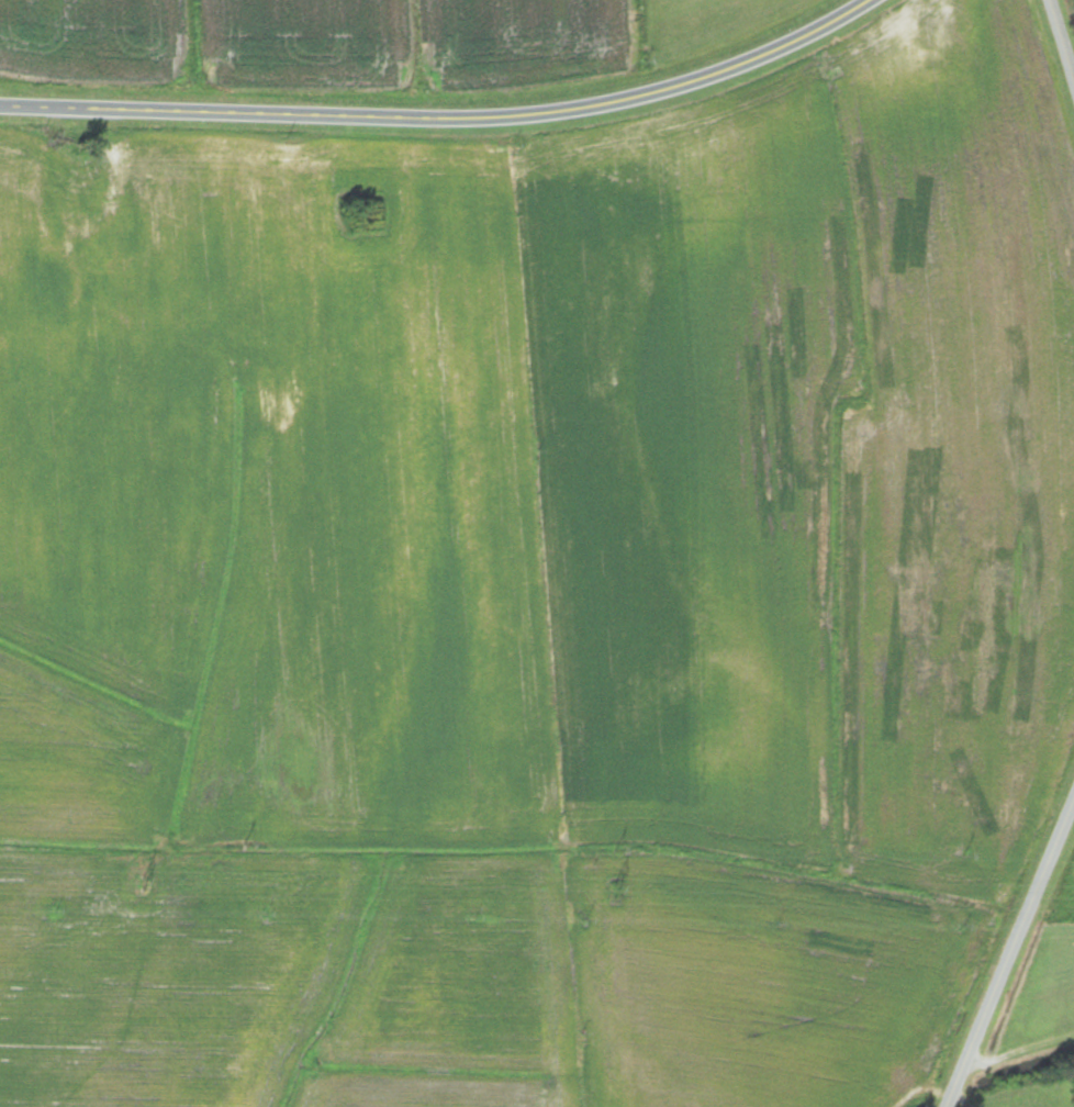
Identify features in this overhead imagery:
road: (1061, 40)
road: (443, 113)
power tower: (139, 882)
power tower: (613, 890)
road: (1009, 952)

